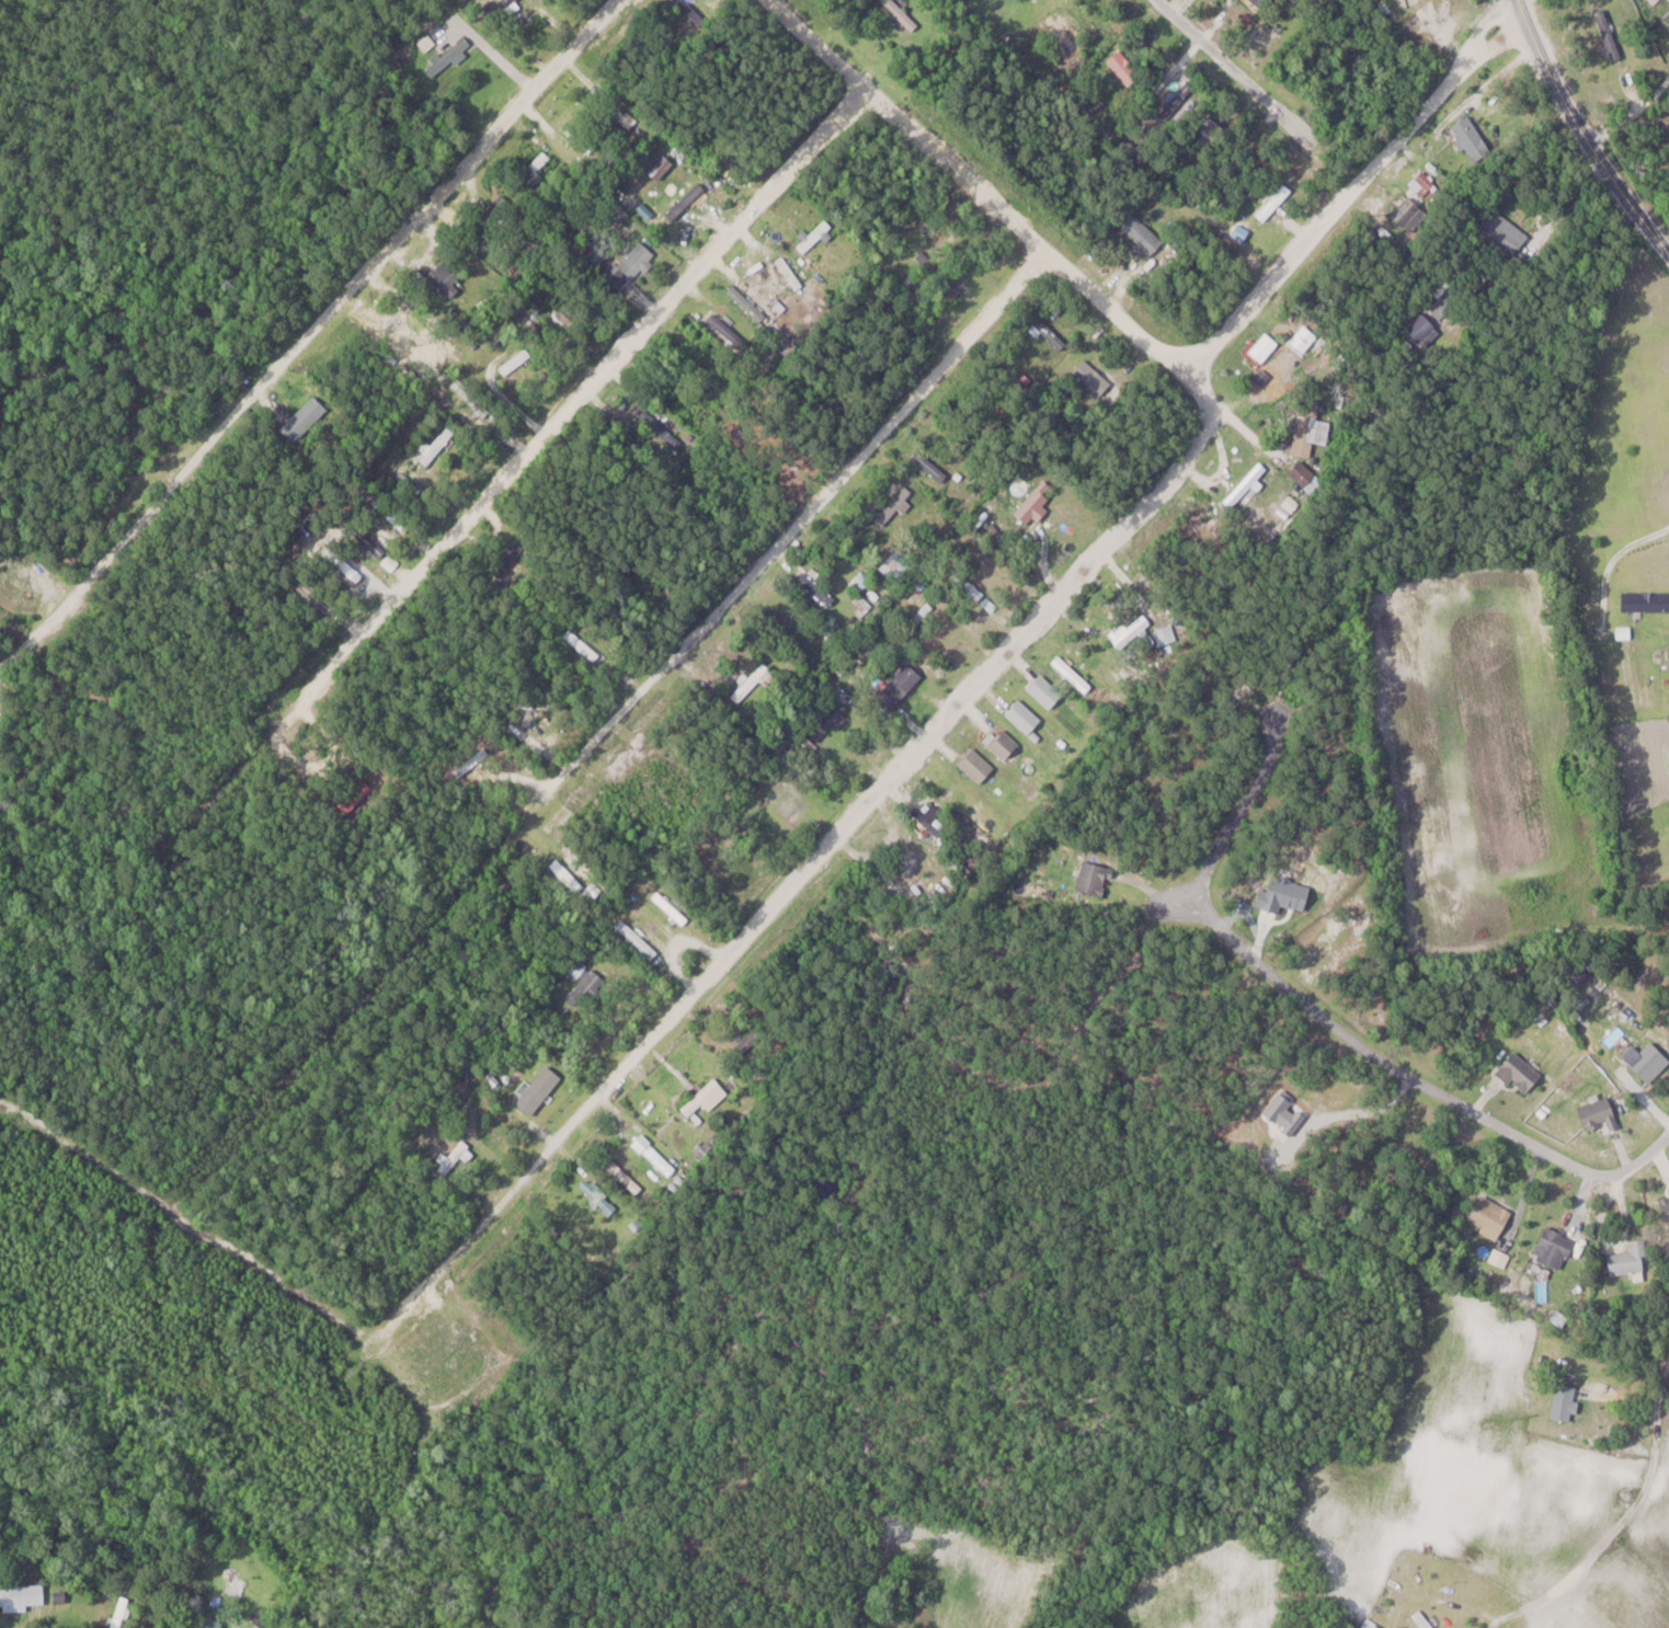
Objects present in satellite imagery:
building: (511, 1)
building: (694, 11)
building: (902, 13)
building: (1064, 33)
building: (1609, 33)
building: (450, 58)
building: (1125, 67)
road: (1257, 90)
building: (1178, 101)
road: (1633, 121)
building: (1209, 129)
road: (1582, 134)
building: (1473, 137)
building: (581, 138)
building: (662, 167)
building: (535, 168)
road: (974, 186)
road: (1350, 187)
building: (686, 200)
building: (1274, 202)
building: (1411, 214)
building: (1507, 231)
building: (1142, 232)
building: (813, 236)
building: (632, 265)
building: (789, 272)
building: (447, 276)
building: (747, 302)
building: (1421, 325)
building: (727, 328)
building: (1051, 333)
road: (307, 335)
building: (1262, 346)
building: (516, 360)
building: (707, 360)
building: (1094, 377)
building: (655, 425)
building: (1311, 427)
building: (437, 444)
building: (933, 467)
building: (1306, 475)
building: (404, 483)
building: (1247, 485)
road: (482, 503)
building: (895, 506)
building: (391, 514)
building: (370, 541)
building: (898, 563)
building: (345, 566)
building: (317, 596)
building: (1646, 600)
building: (1134, 631)
building: (1166, 634)
building: (583, 645)
road: (658, 672)
building: (755, 685)
building: (900, 686)
building: (1045, 690)
building: (831, 715)
building: (1025, 716)
building: (1005, 744)
building: (782, 750)
building: (472, 763)
building: (978, 765)
road: (831, 844)
building: (916, 868)
building: (1095, 878)
building: (671, 907)
building: (638, 939)
building: (584, 985)
road: (1328, 1023)
building: (1650, 1062)
building: (1520, 1075)
building: (707, 1097)
building: (702, 1151)
building: (453, 1157)
building: (659, 1159)
building: (622, 1176)
building: (1665, 1202)
building: (1490, 1215)
building: (1555, 1249)
building: (1631, 1260)
building: (1566, 1402)
road: (1638, 1501)
building: (22, 1596)
building: (1424, 1619)
building: (217, 1625)

